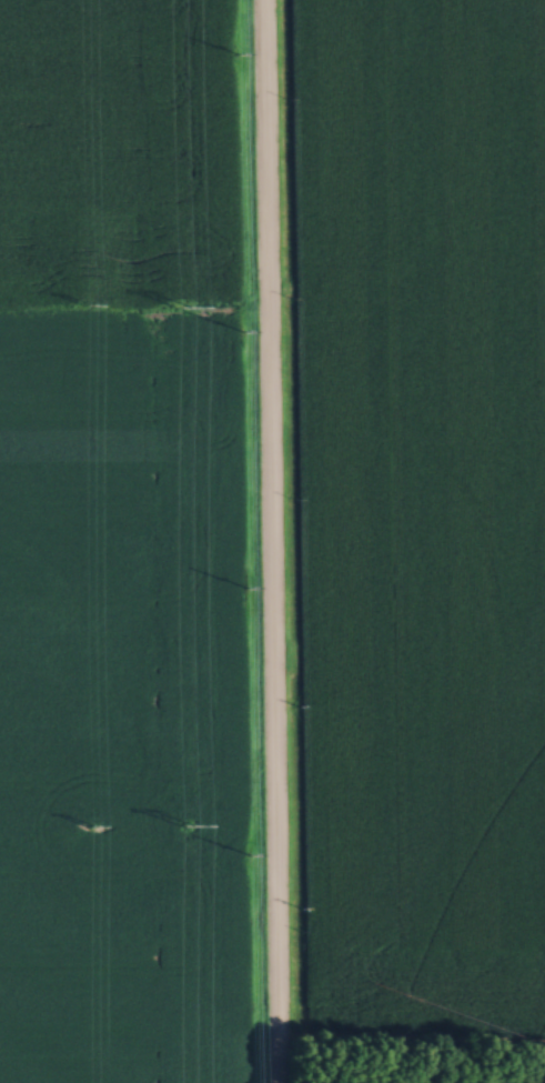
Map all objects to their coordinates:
power tower: (84, 304)
power tower: (179, 304)
road: (269, 541)
power tower: (181, 821)
power tower: (85, 823)

